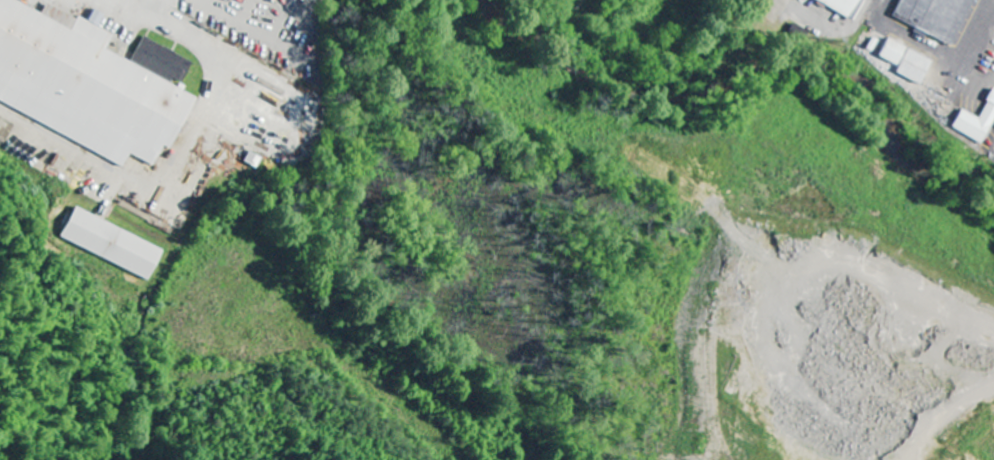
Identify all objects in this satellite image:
building: (843, 7)
building: (933, 16)
river: (765, 48)
building: (160, 62)
building: (904, 62)
building: (84, 84)
building: (975, 121)
building: (112, 244)

